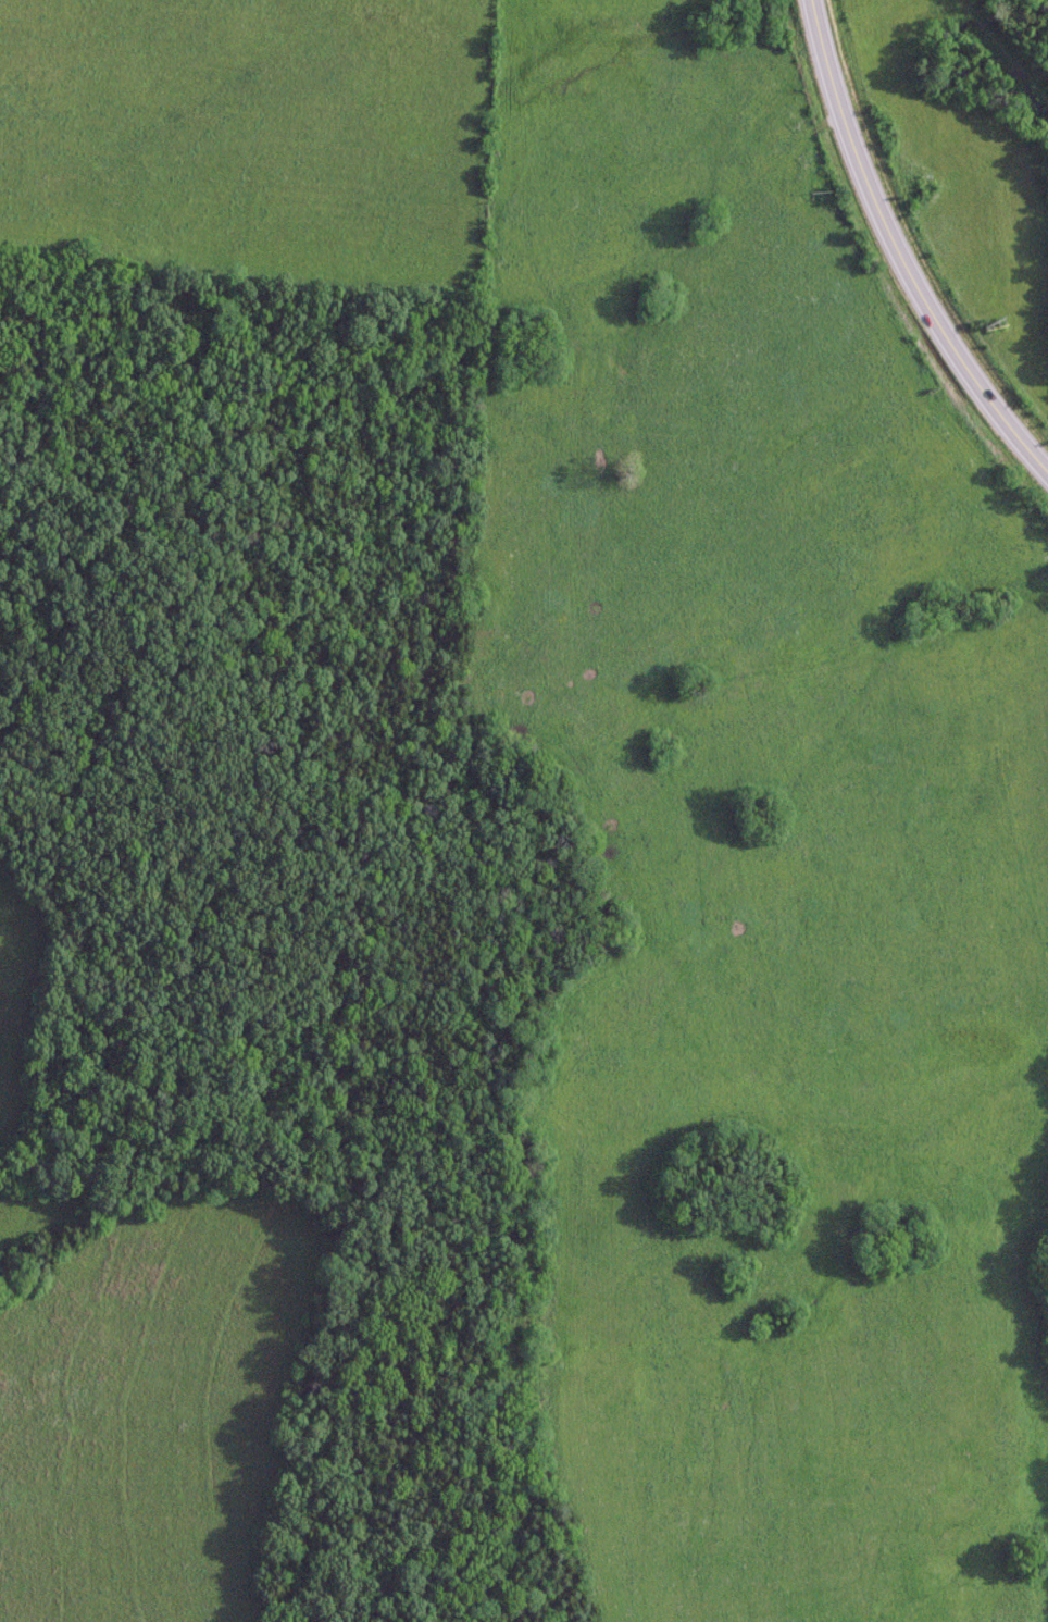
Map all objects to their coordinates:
road: (887, 253)

